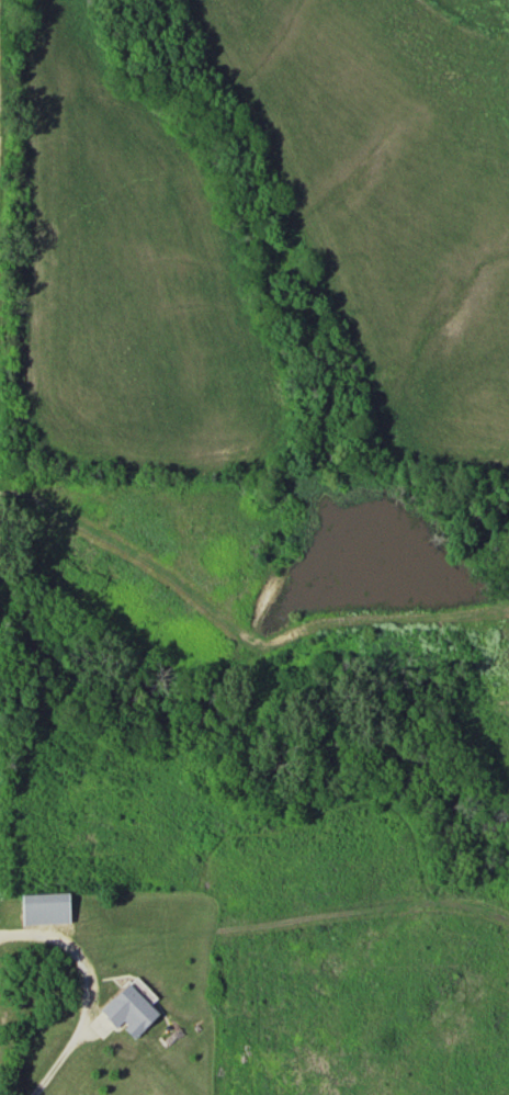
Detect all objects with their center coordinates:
building: (41, 907)
building: (126, 1009)

